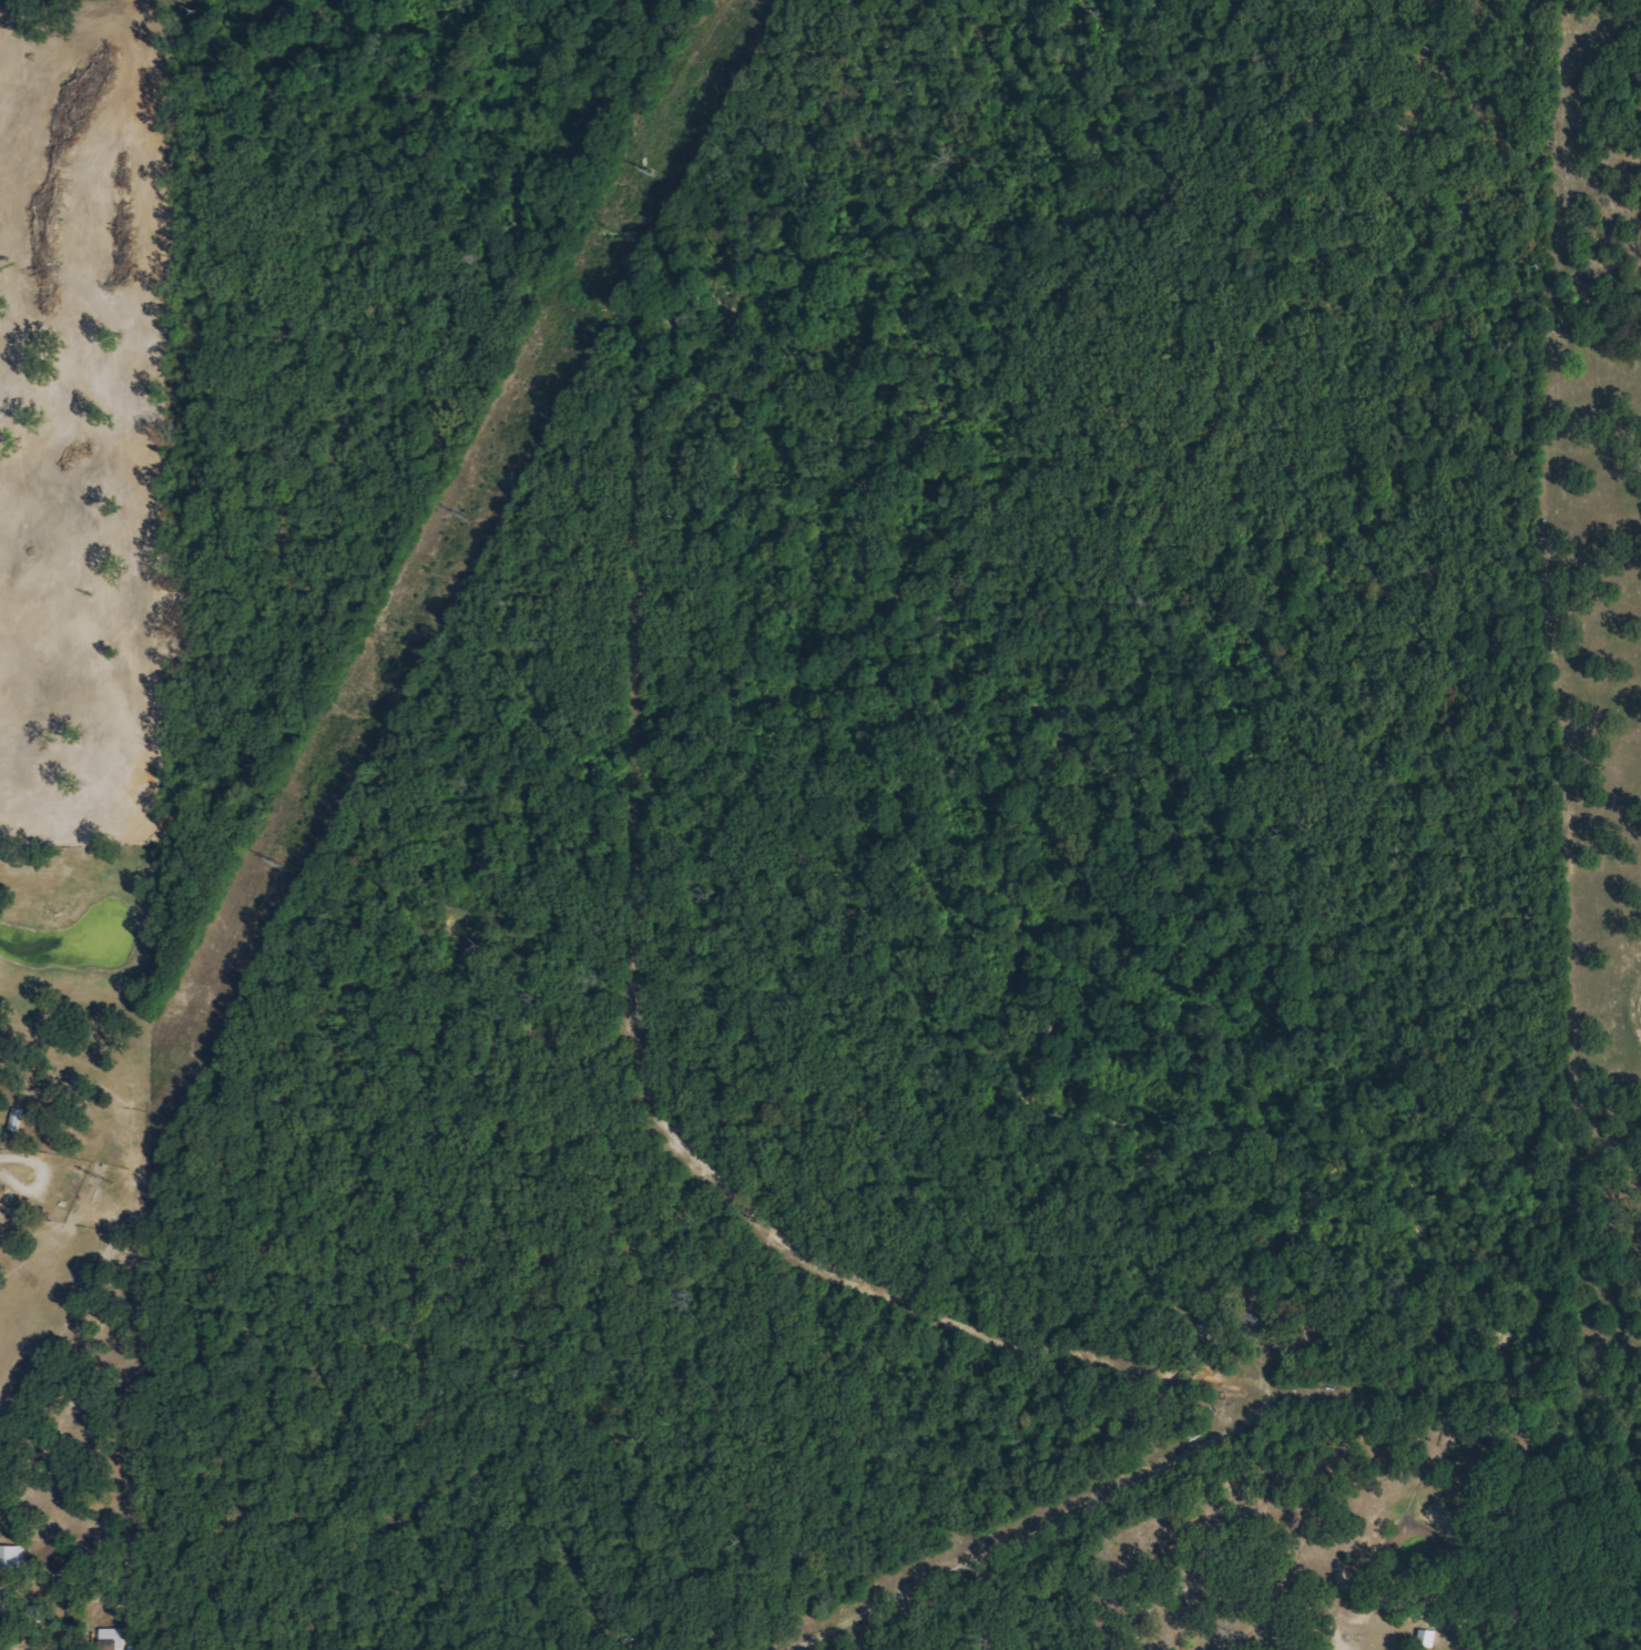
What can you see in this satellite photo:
power tower: (648, 172)
power tower: (462, 517)
power tower: (272, 864)
power tower: (108, 1180)
road: (1050, 1527)
building: (12, 1557)
building: (1427, 1638)
building: (111, 1639)

